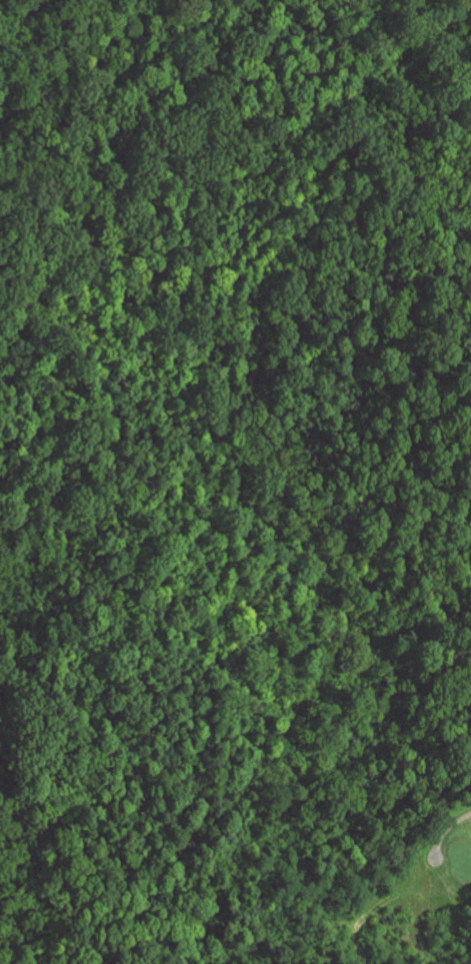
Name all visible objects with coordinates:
road: (447, 831)
park: (448, 863)
road: (364, 919)

